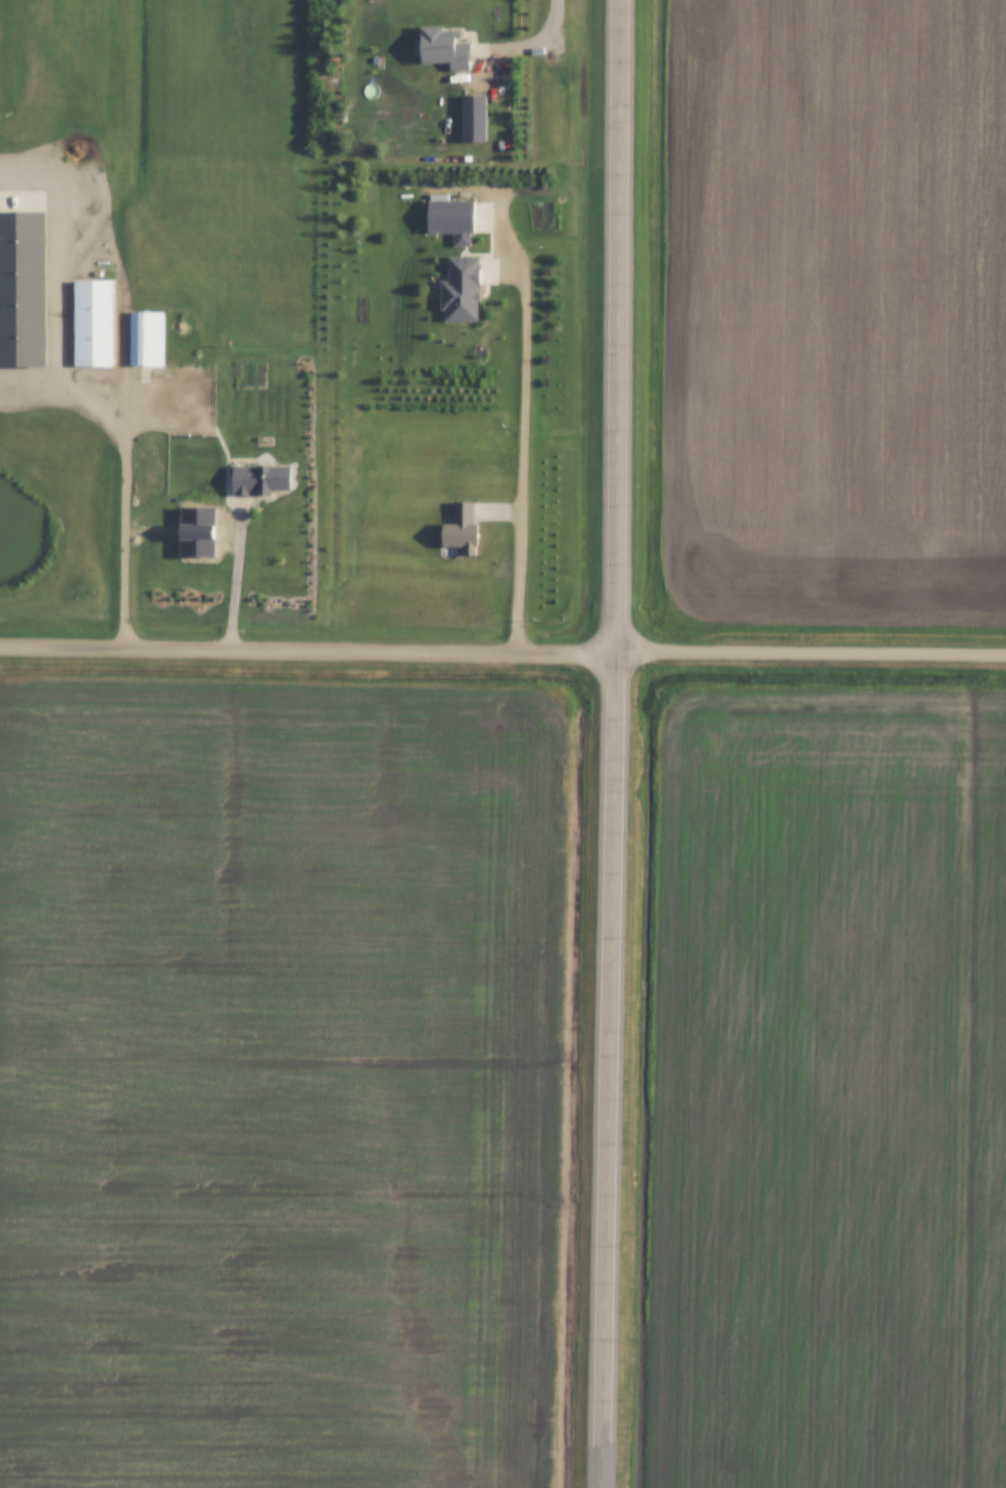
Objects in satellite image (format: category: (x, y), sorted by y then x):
road: (527, 43)
building: (445, 48)
building: (474, 119)
building: (546, 216)
building: (454, 220)
building: (24, 290)
building: (462, 290)
building: (93, 324)
building: (147, 340)
road: (83, 392)
road: (526, 448)
building: (262, 479)
building: (463, 529)
road: (240, 583)
road: (502, 651)
road: (613, 743)

